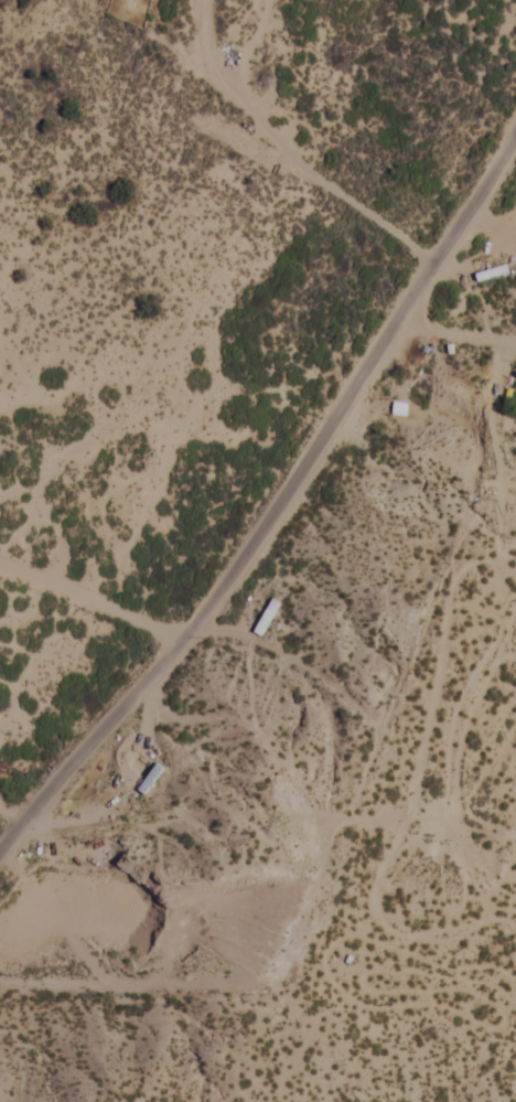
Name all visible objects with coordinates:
building: (490, 275)
road: (152, 471)
road: (268, 496)
road: (2, 857)

